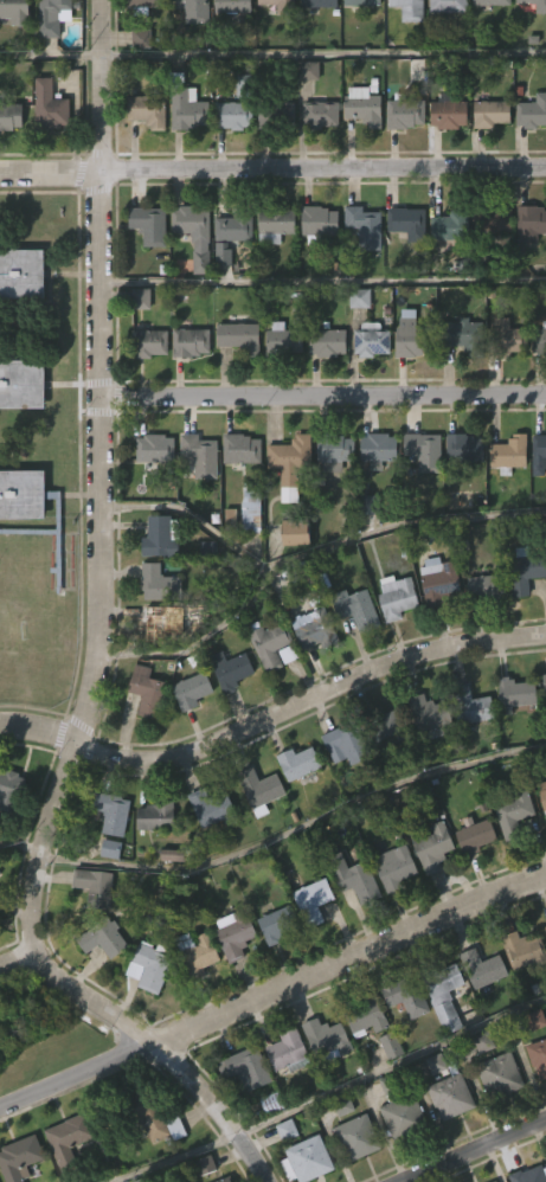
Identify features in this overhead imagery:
building: (490, 1)
building: (365, 2)
building: (320, 4)
building: (282, 5)
building: (144, 6)
building: (231, 6)
building: (447, 6)
building: (540, 8)
building: (411, 9)
building: (195, 11)
building: (15, 12)
building: (56, 14)
building: (486, 38)
building: (356, 39)
building: (136, 40)
building: (270, 40)
building: (313, 40)
building: (529, 40)
building: (400, 45)
building: (443, 45)
building: (187, 47)
building: (227, 47)
building: (12, 52)
road: (323, 52)
building: (49, 53)
road: (51, 54)
building: (136, 84)
building: (185, 105)
building: (362, 105)
building: (47, 107)
building: (147, 110)
building: (493, 111)
building: (533, 111)
building: (321, 113)
building: (403, 113)
building: (448, 114)
building: (231, 115)
building: (8, 116)
building: (278, 116)
building: (303, 116)
building: (45, 153)
building: (359, 153)
building: (182, 155)
building: (142, 156)
building: (529, 158)
building: (400, 160)
building: (443, 160)
building: (486, 160)
building: (229, 161)
building: (270, 161)
building: (315, 161)
building: (8, 162)
road: (272, 173)
building: (492, 218)
building: (529, 220)
building: (316, 221)
building: (405, 221)
building: (150, 224)
building: (274, 224)
building: (454, 225)
building: (367, 226)
building: (192, 232)
building: (230, 235)
building: (315, 268)
building: (487, 268)
building: (402, 269)
building: (528, 269)
building: (144, 271)
building: (269, 271)
building: (444, 272)
building: (23, 274)
building: (359, 274)
building: (190, 280)
road: (322, 281)
building: (225, 282)
building: (19, 320)
building: (411, 334)
building: (461, 334)
building: (238, 335)
building: (505, 338)
building: (371, 339)
building: (539, 339)
building: (192, 340)
building: (281, 341)
building: (150, 342)
building: (330, 342)
building: (457, 379)
building: (235, 383)
building: (502, 383)
building: (23, 384)
building: (403, 384)
building: (278, 385)
building: (365, 386)
building: (537, 387)
building: (144, 388)
building: (186, 388)
building: (322, 388)
road: (322, 394)
building: (19, 430)
building: (240, 448)
building: (380, 448)
building: (465, 448)
building: (336, 449)
building: (156, 450)
building: (426, 451)
building: (512, 454)
building: (203, 455)
building: (540, 456)
building: (291, 463)
building: (458, 494)
building: (149, 495)
building: (237, 495)
building: (373, 495)
building: (330, 496)
building: (418, 496)
building: (503, 499)
building: (535, 500)
building: (195, 501)
building: (250, 507)
building: (31, 508)
building: (284, 509)
building: (162, 537)
building: (19, 540)
road: (314, 551)
building: (245, 554)
building: (525, 570)
building: (290, 579)
building: (438, 580)
building: (160, 584)
building: (484, 584)
building: (396, 596)
building: (355, 608)
building: (521, 618)
building: (158, 622)
building: (435, 624)
building: (314, 631)
building: (480, 634)
road: (197, 641)
building: (391, 642)
building: (268, 643)
road: (98, 647)
building: (351, 654)
building: (149, 667)
building: (232, 670)
building: (308, 675)
building: (544, 681)
building: (190, 689)
building: (146, 690)
building: (268, 692)
building: (515, 694)
building: (473, 705)
building: (226, 715)
road: (271, 715)
building: (429, 717)
building: (385, 727)
building: (541, 728)
building: (186, 737)
building: (142, 738)
building: (513, 738)
building: (348, 741)
building: (468, 751)
building: (420, 758)
building: (300, 762)
building: (381, 775)
building: (263, 788)
building: (12, 789)
building: (340, 789)
building: (542, 796)
building: (216, 807)
building: (293, 809)
building: (110, 814)
building: (512, 814)
building: (158, 816)
road: (296, 827)
building: (255, 833)
building: (7, 835)
building: (475, 837)
road: (21, 846)
building: (540, 846)
building: (430, 847)
building: (206, 850)
building: (107, 859)
building: (508, 859)
building: (150, 862)
building: (391, 867)
building: (0, 872)
building: (351, 878)
building: (470, 884)
building: (97, 885)
building: (429, 893)
building: (311, 900)
building: (391, 912)
building: (280, 924)
building: (349, 924)
building: (88, 927)
building: (237, 933)
building: (102, 938)
building: (308, 946)
building: (525, 950)
building: (194, 953)
road: (18, 956)
road: (349, 959)
building: (148, 966)
building: (482, 971)
building: (271, 972)
building: (544, 979)
building: (230, 981)
building: (98, 984)
building: (443, 994)
building: (518, 995)
building: (405, 996)
building: (190, 998)
building: (143, 1013)
building: (477, 1014)
building: (365, 1016)
building: (325, 1038)
building: (400, 1042)
building: (441, 1049)
building: (287, 1052)
building: (539, 1056)
building: (361, 1064)
building: (531, 1065)
building: (249, 1067)
road: (391, 1067)
building: (502, 1074)
road: (77, 1075)
building: (321, 1083)
building: (385, 1091)
building: (450, 1096)
building: (283, 1097)
building: (535, 1103)
building: (431, 1109)
building: (239, 1113)
building: (146, 1116)
building: (402, 1118)
building: (494, 1120)
building: (358, 1137)
building: (71, 1139)
building: (445, 1142)
building: (266, 1146)
road: (478, 1155)
building: (20, 1157)
road: (169, 1157)
building: (311, 1158)
building: (147, 1162)
building: (398, 1162)
building: (65, 1173)
building: (351, 1173)
building: (281, 1174)
building: (529, 1175)
building: (226, 1180)
building: (31, 1181)
building: (313, 1181)

